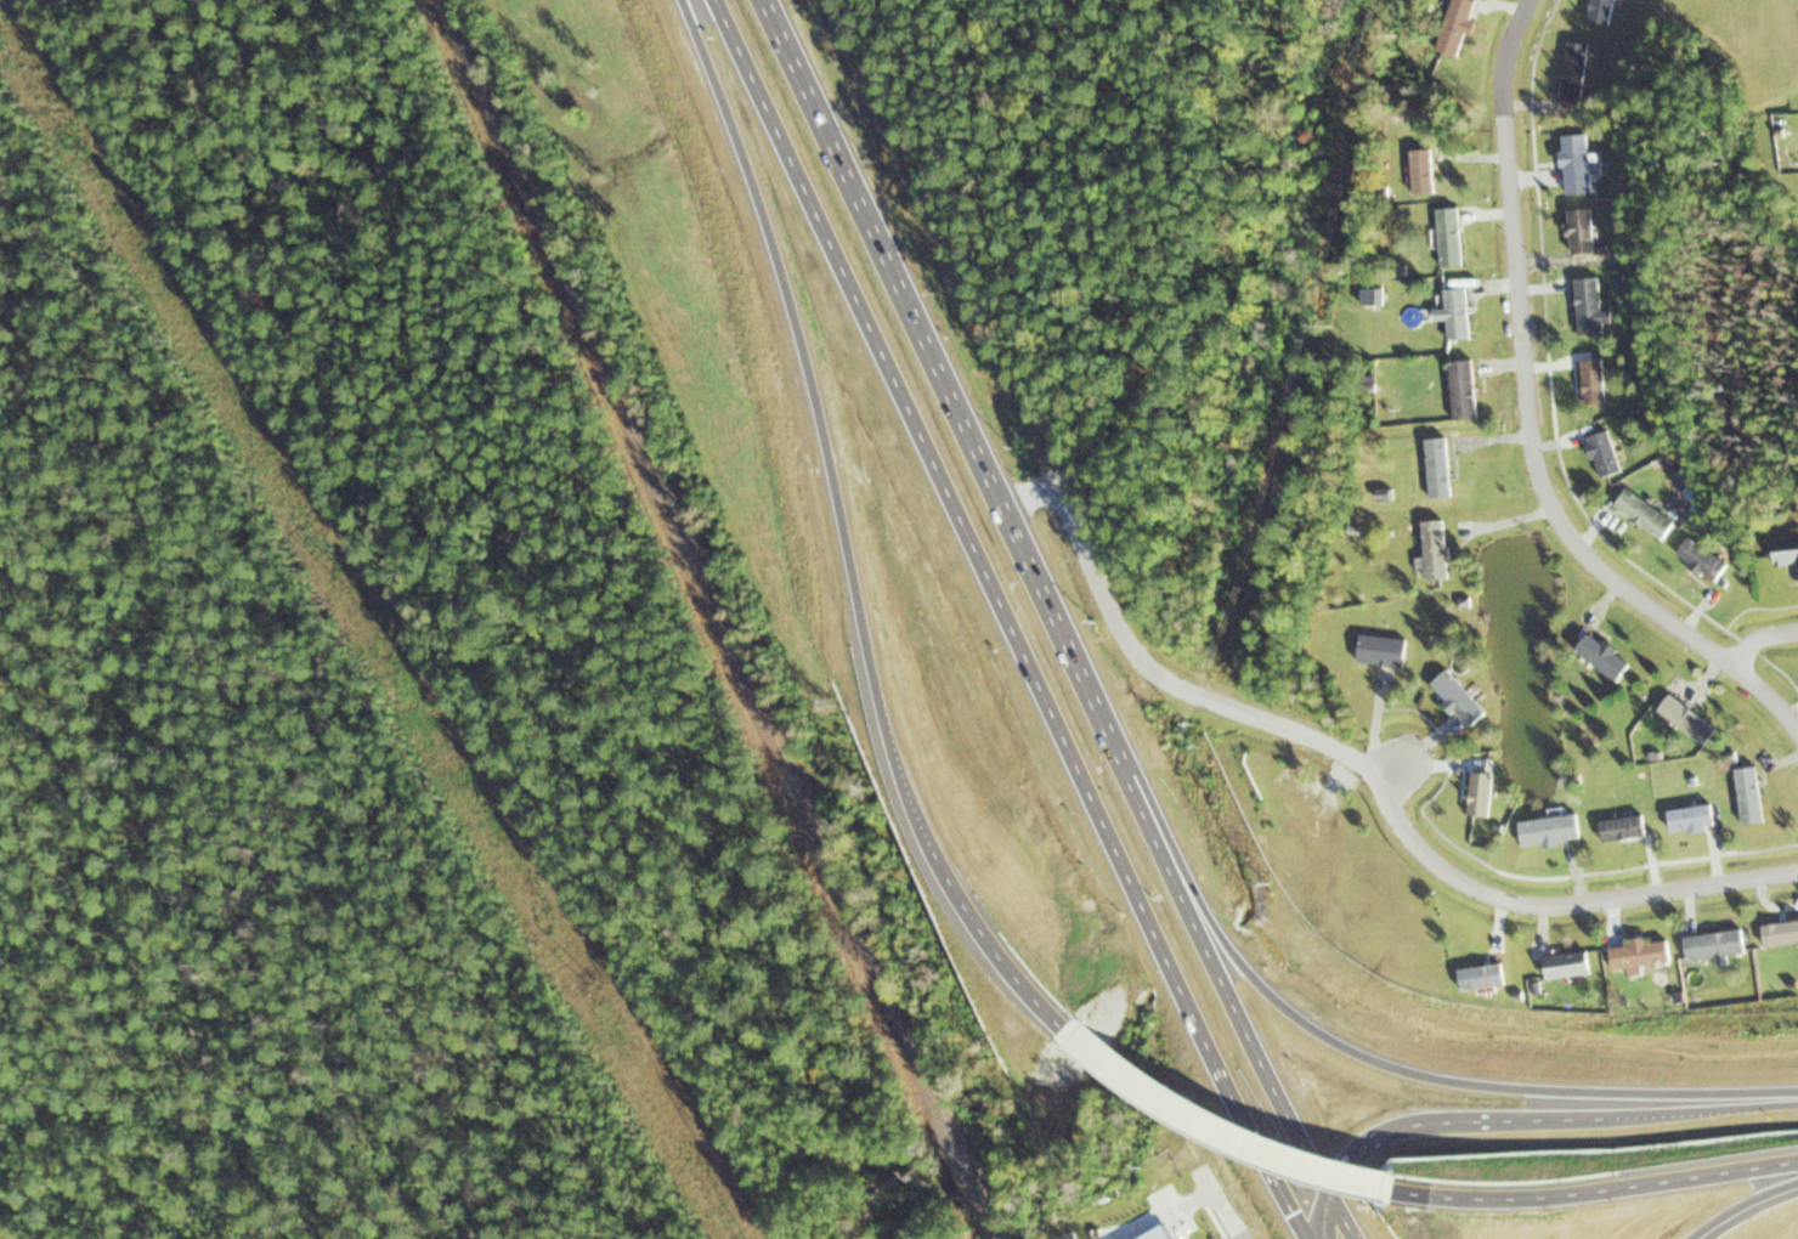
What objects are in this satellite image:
building: (1595, 18)
building: (1449, 35)
building: (1567, 85)
power tower: (100, 169)
building: (1417, 175)
building: (1570, 176)
building: (1576, 244)
building: (1444, 247)
building: (1581, 317)
building: (1451, 322)
building: (1457, 394)
road: (815, 395)
building: (1583, 395)
road: (1531, 418)
road: (969, 434)
building: (1604, 454)
building: (1595, 465)
building: (1430, 473)
road: (1033, 497)
building: (1644, 514)
building: (1635, 527)
building: (1425, 561)
building: (1779, 566)
building: (1697, 572)
power tower: (352, 584)
railway: (720, 618)
road: (1008, 621)
road: (1759, 637)
building: (1374, 660)
building: (1594, 663)
road: (1160, 673)
building: (1458, 697)
building: (1449, 711)
building: (1677, 728)
road: (1392, 771)
building: (1470, 802)
building: (1745, 804)
building: (1685, 836)
building: (1617, 838)
building: (1540, 841)
road: (1562, 904)
road: (985, 926)
building: (1779, 947)
building: (1640, 956)
building: (1707, 958)
building: (1566, 966)
building: (1630, 969)
building: (1553, 981)
power tower: (594, 984)
building: (1468, 988)
power tower: (1540, 1026)
road: (1246, 1031)
road: (1443, 1079)
road: (1713, 1109)
road: (1464, 1119)
road: (1225, 1132)
airport: (1585, 1141)
traffic signals: (1344, 1166)
road: (1595, 1192)
power tower: (1432, 1200)
road: (1745, 1206)
road: (1220, 1209)
road: (1324, 1215)
road: (1342, 1215)
traffic signals: (1297, 1218)

